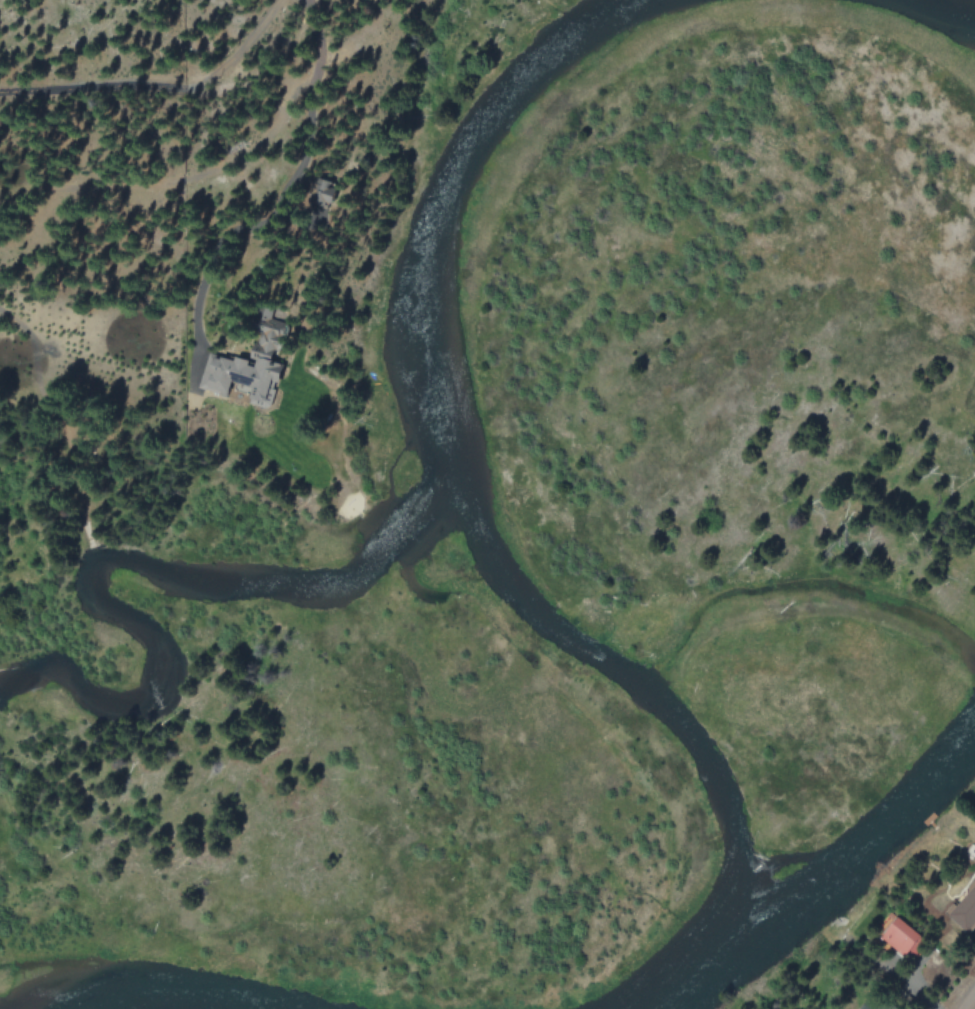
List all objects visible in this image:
river: (943, 11)
road: (159, 87)
building: (251, 371)
river: (468, 479)
river: (181, 585)
river: (825, 884)
building: (966, 914)
building: (904, 938)
road: (972, 1004)
river: (110, 1005)

